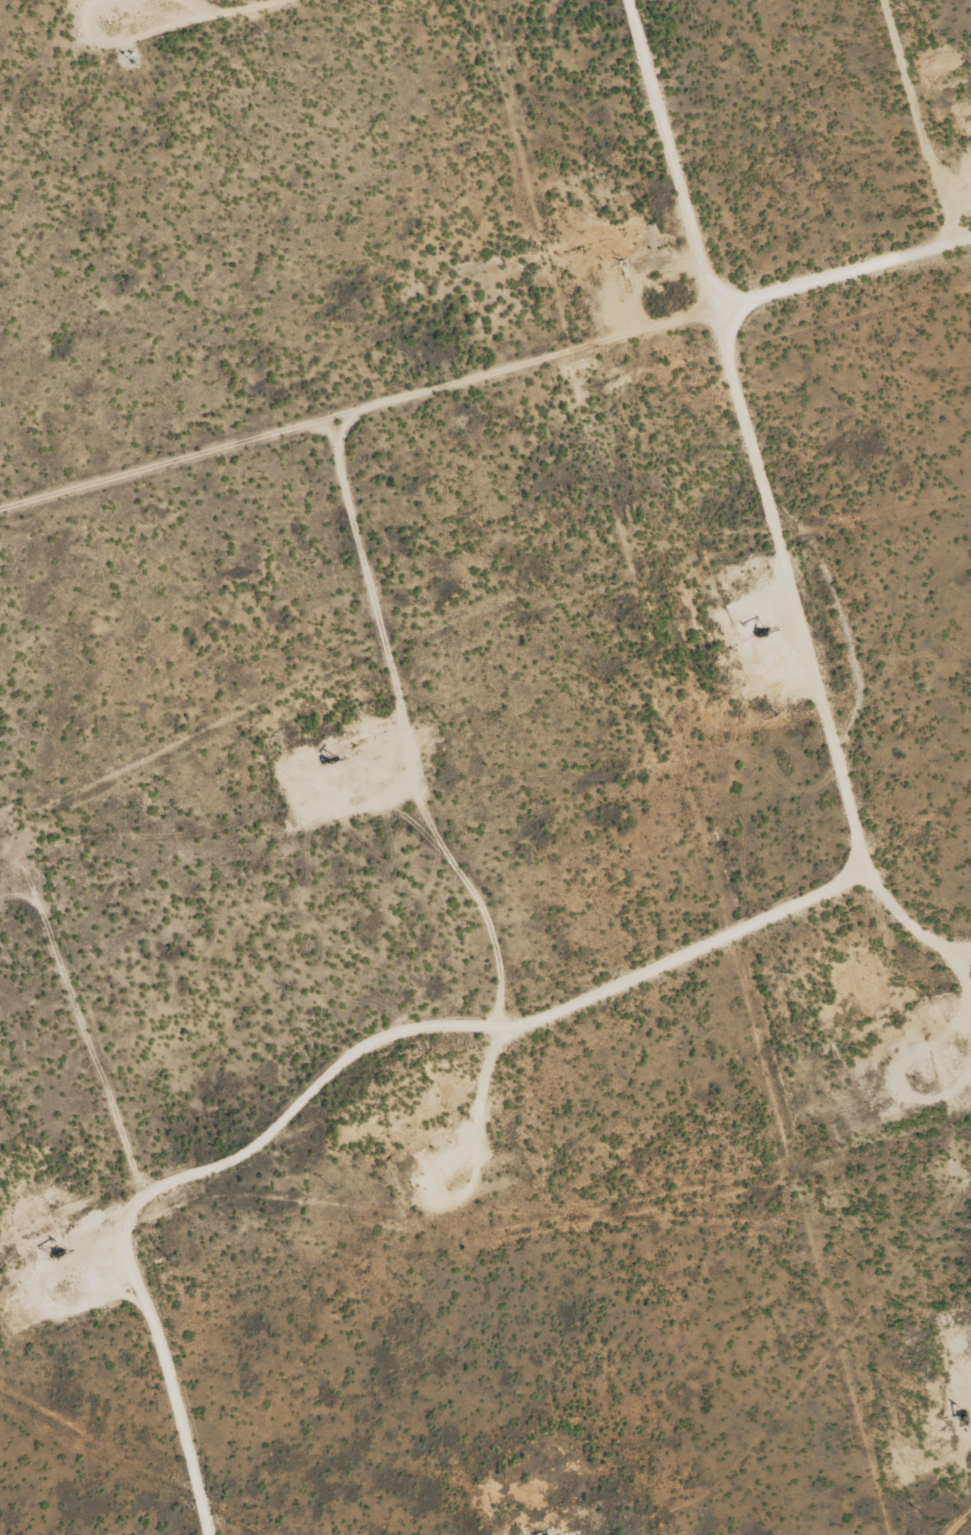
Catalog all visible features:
road: (485, 376)
road: (792, 518)
road: (956, 1521)

